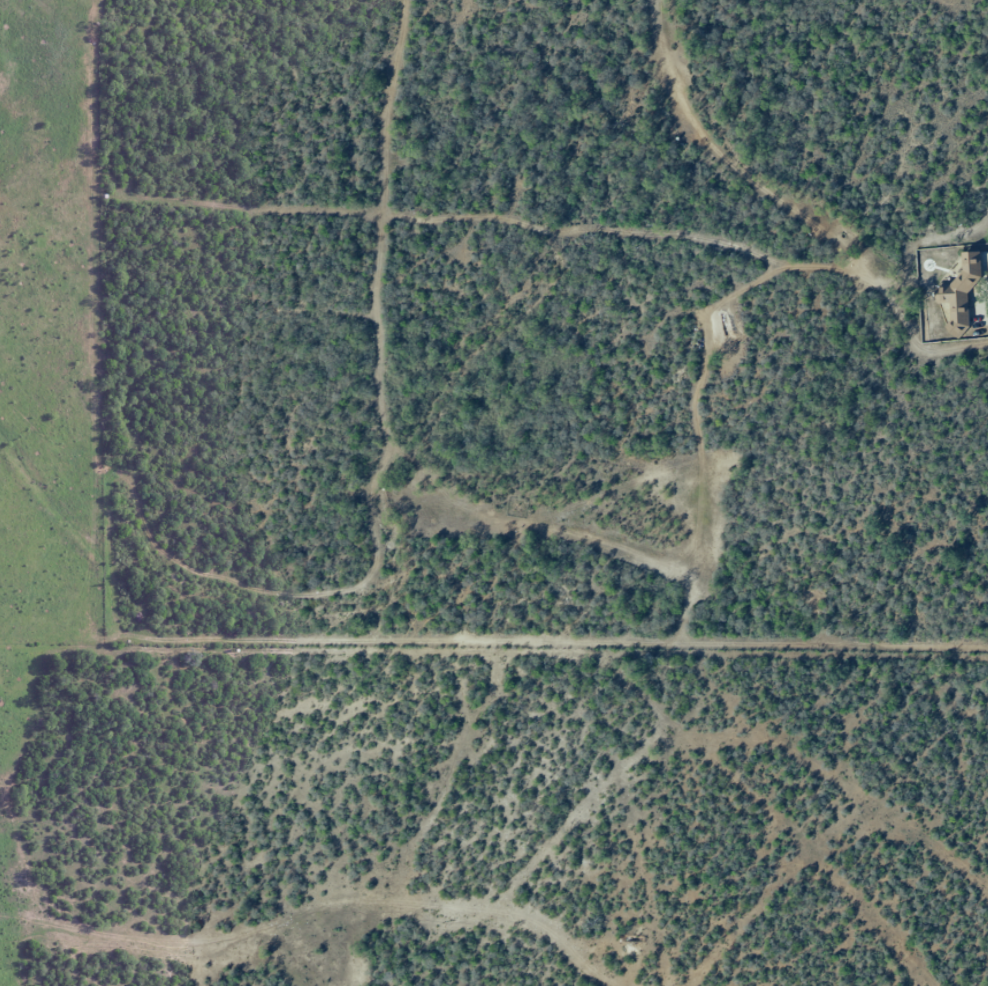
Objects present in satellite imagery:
building: (961, 295)
road: (968, 605)

